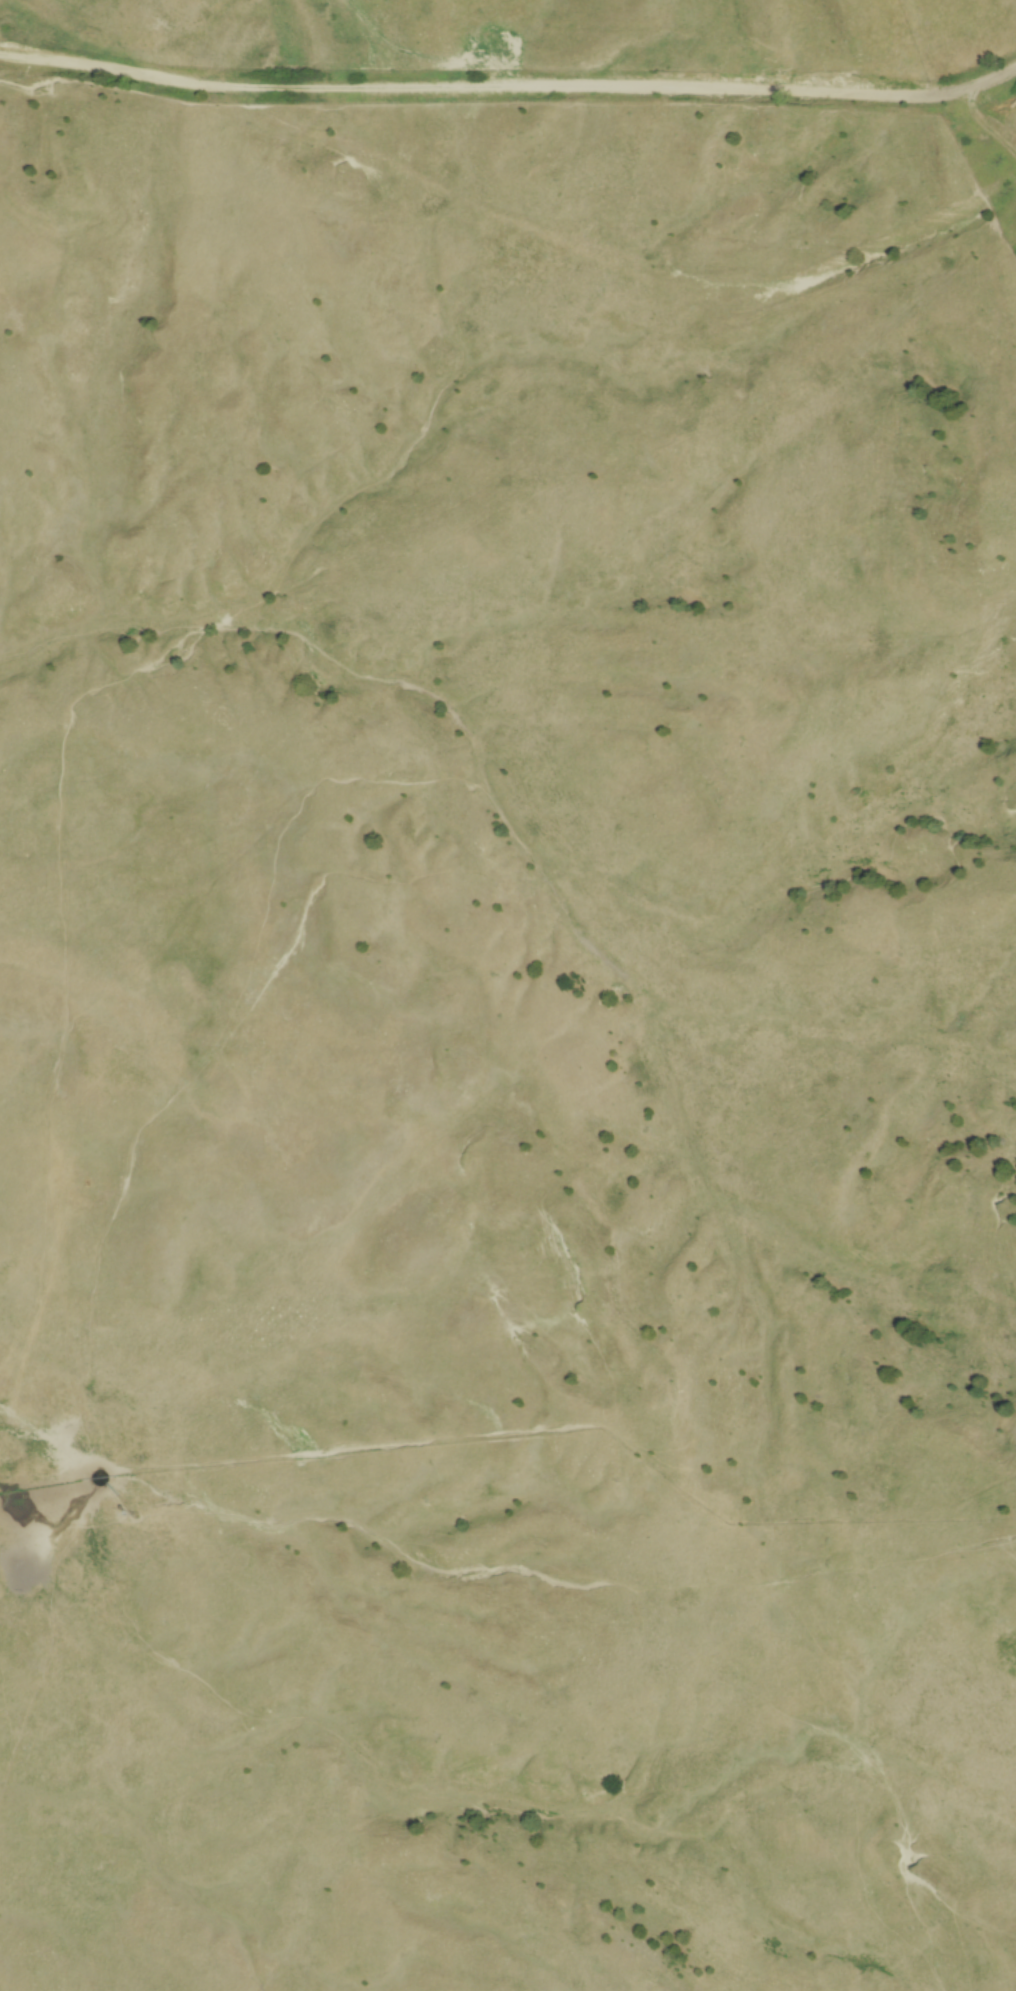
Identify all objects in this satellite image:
road: (510, 88)

